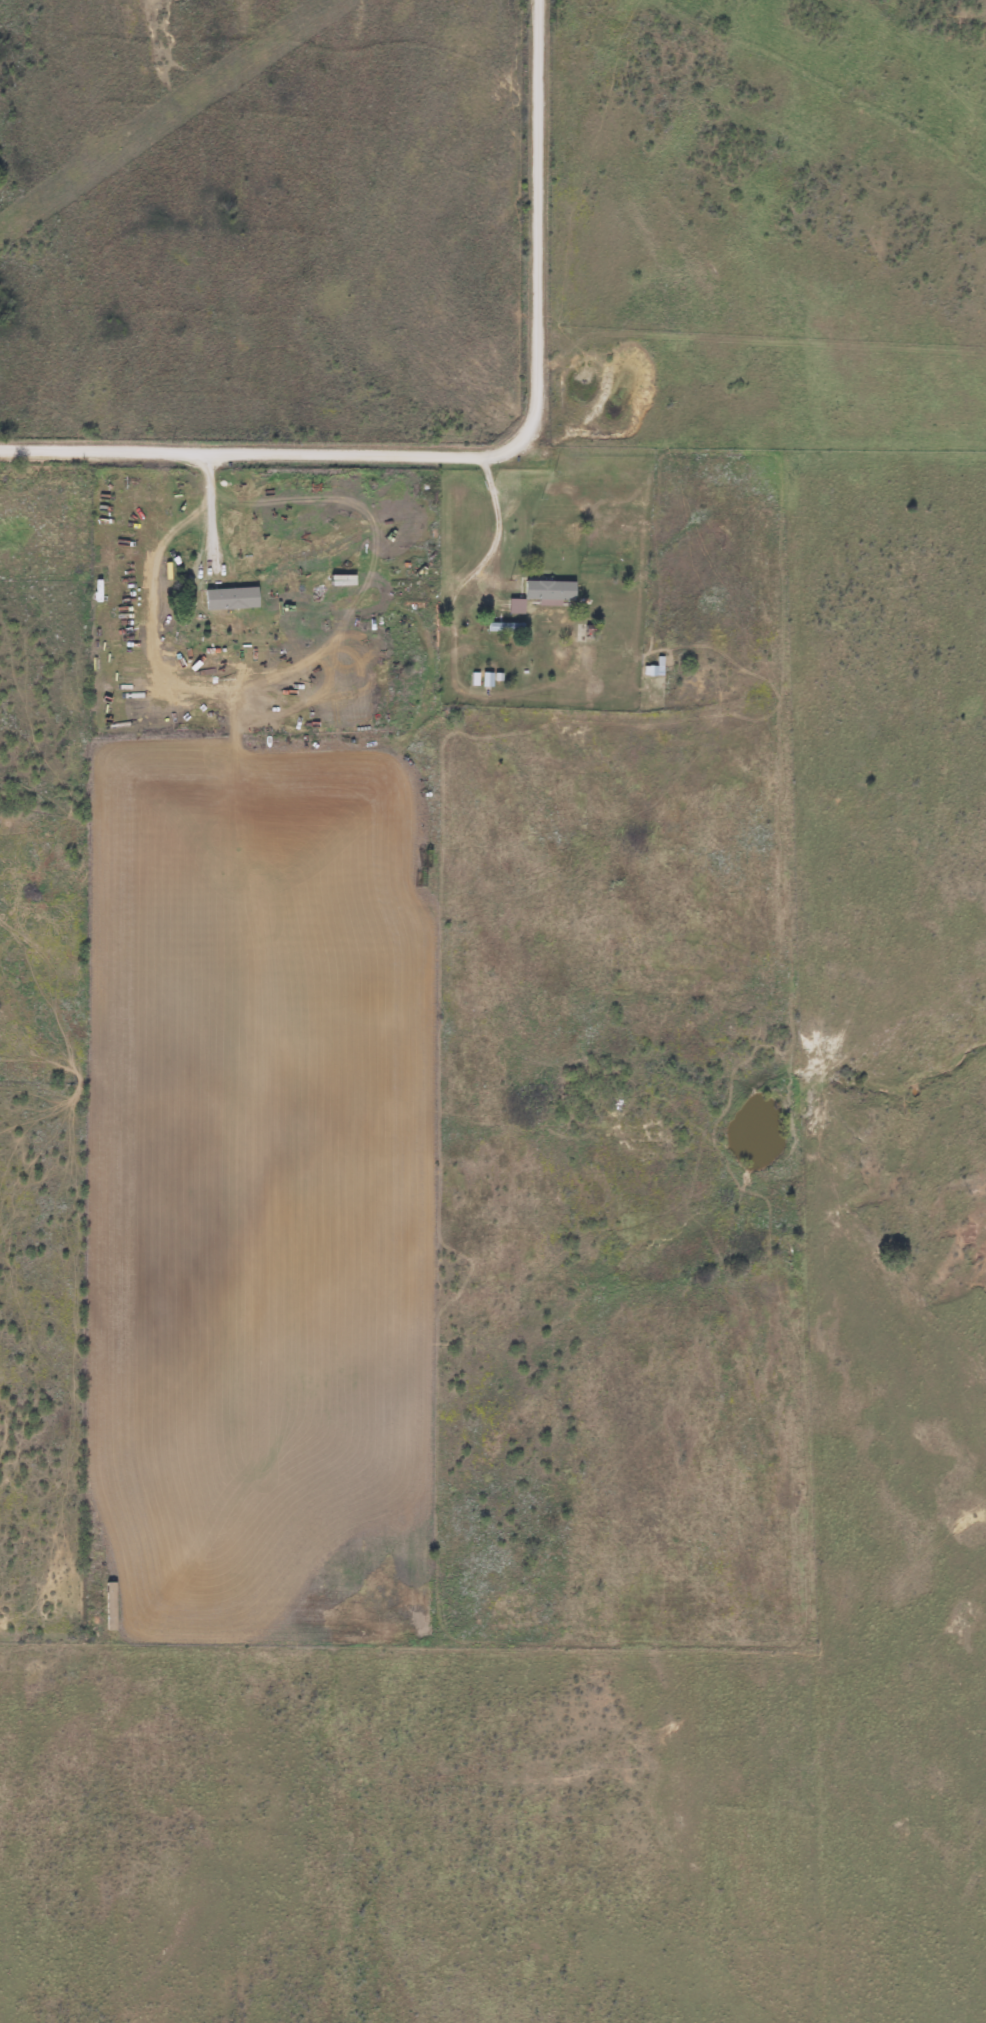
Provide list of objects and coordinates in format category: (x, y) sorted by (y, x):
road: (484, 456)
building: (548, 590)
building: (230, 598)
building: (515, 606)

